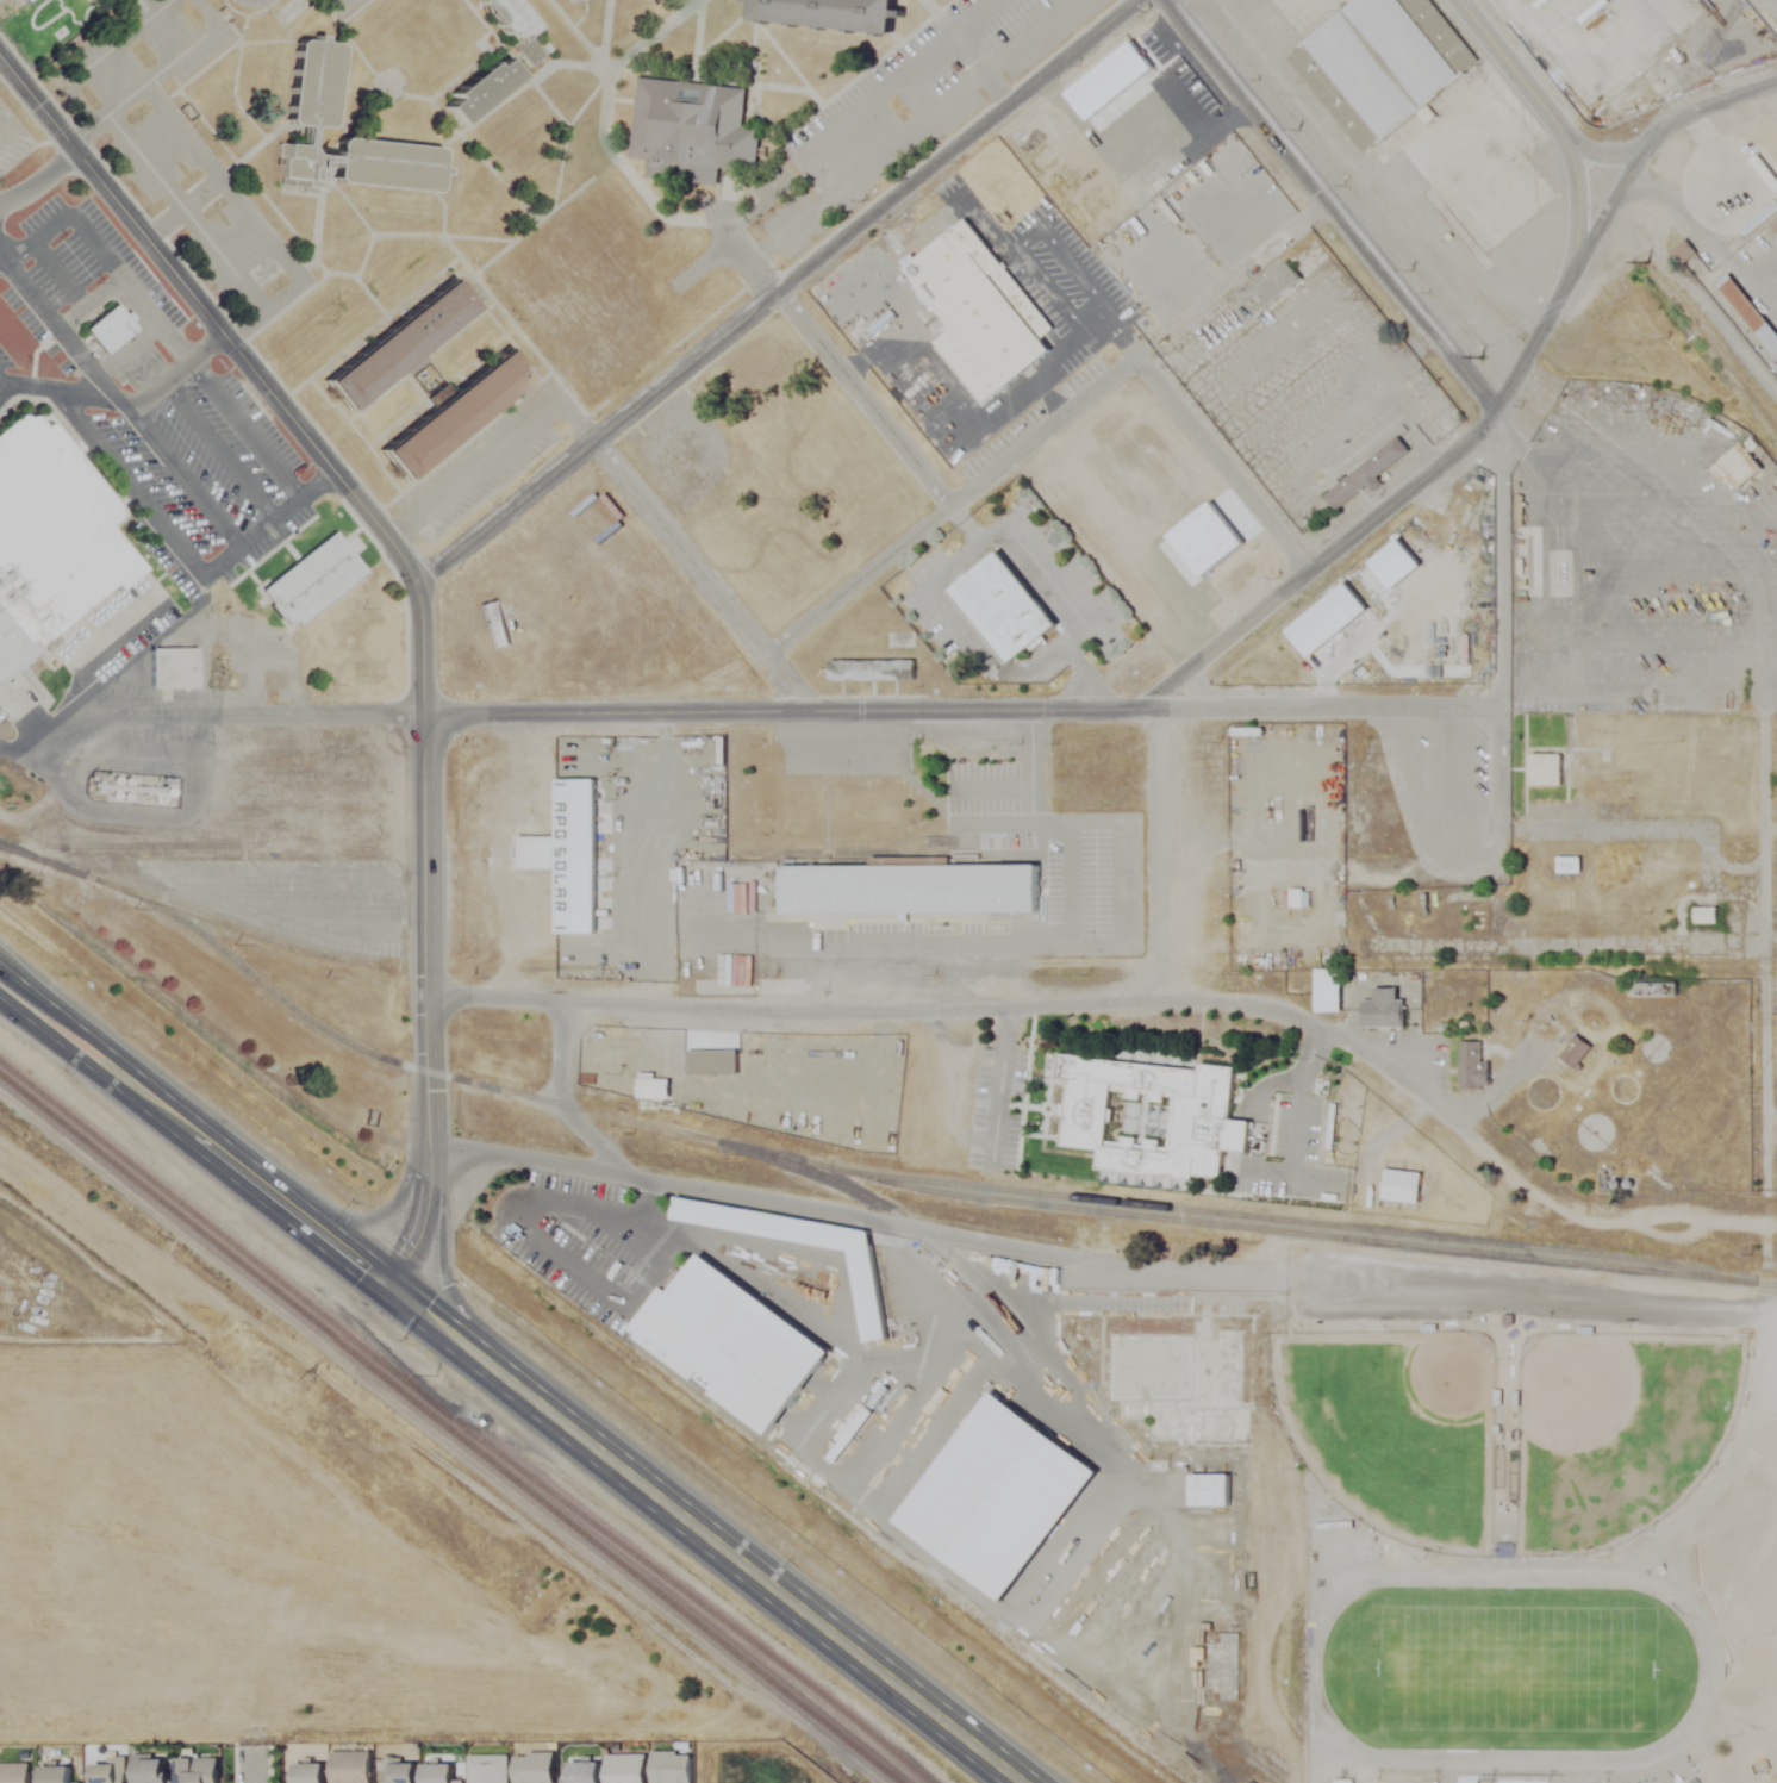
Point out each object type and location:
building: (25, 1)
road: (243, 2)
road: (257, 2)
road: (1183, 7)
building: (833, 14)
building: (512, 26)
road: (1021, 33)
road: (962, 49)
building: (1379, 66)
building: (311, 85)
building: (480, 91)
road: (1664, 125)
road: (1555, 126)
road: (903, 131)
building: (691, 132)
road: (89, 133)
road: (805, 151)
building: (301, 163)
building: (388, 166)
road: (146, 168)
road: (39, 181)
road: (1328, 205)
building: (1760, 217)
building: (1773, 226)
road: (163, 227)
road: (1703, 242)
building: (1682, 251)
road: (5, 255)
building: (1271, 286)
road: (775, 293)
building: (984, 303)
building: (1748, 312)
road: (210, 320)
building: (108, 331)
building: (400, 343)
road: (82, 354)
building: (971, 366)
road: (162, 378)
road: (862, 399)
building: (454, 414)
road: (245, 424)
road: (492, 449)
road: (1220, 465)
building: (1368, 469)
road: (1435, 469)
building: (1735, 472)
road: (185, 473)
road: (129, 480)
road: (948, 506)
road: (268, 520)
building: (49, 537)
road: (1497, 559)
road: (700, 576)
building: (312, 579)
building: (1004, 607)
building: (170, 666)
building: (874, 666)
road: (116, 667)
road: (743, 712)
road: (843, 748)
building: (1104, 760)
building: (1546, 769)
road: (1497, 771)
road: (952, 815)
road: (1410, 821)
road: (1172, 859)
building: (1567, 865)
building: (911, 890)
building: (1706, 915)
road: (1121, 919)
railway: (233, 928)
road: (422, 941)
building: (1657, 990)
building: (1327, 991)
road: (1128, 1005)
building: (1384, 1010)
road: (113, 1051)
building: (1576, 1052)
building: (712, 1062)
building: (1470, 1066)
road: (105, 1078)
road: (1299, 1096)
road: (559, 1099)
building: (1149, 1120)
railway: (855, 1174)
road: (746, 1195)
railway: (873, 1198)
road: (301, 1218)
railway: (1273, 1218)
road: (549, 1246)
road: (1771, 1253)
traffic signals: (386, 1286)
building: (868, 1291)
building: (1453, 1318)
building: (732, 1340)
building: (1180, 1379)
power tower: (310, 1380)
building: (860, 1424)
railway: (461, 1426)
park: (1392, 1427)
railway: (449, 1429)
park: (1616, 1429)
building: (1208, 1489)
building: (997, 1497)
road: (703, 1534)
building: (1227, 1669)
road: (251, 1766)
building: (353, 1768)
building: (152, 1769)
building: (200, 1770)
building: (112, 1771)
building: (401, 1771)
building: (15, 1772)
building: (311, 1772)
building: (60, 1775)

